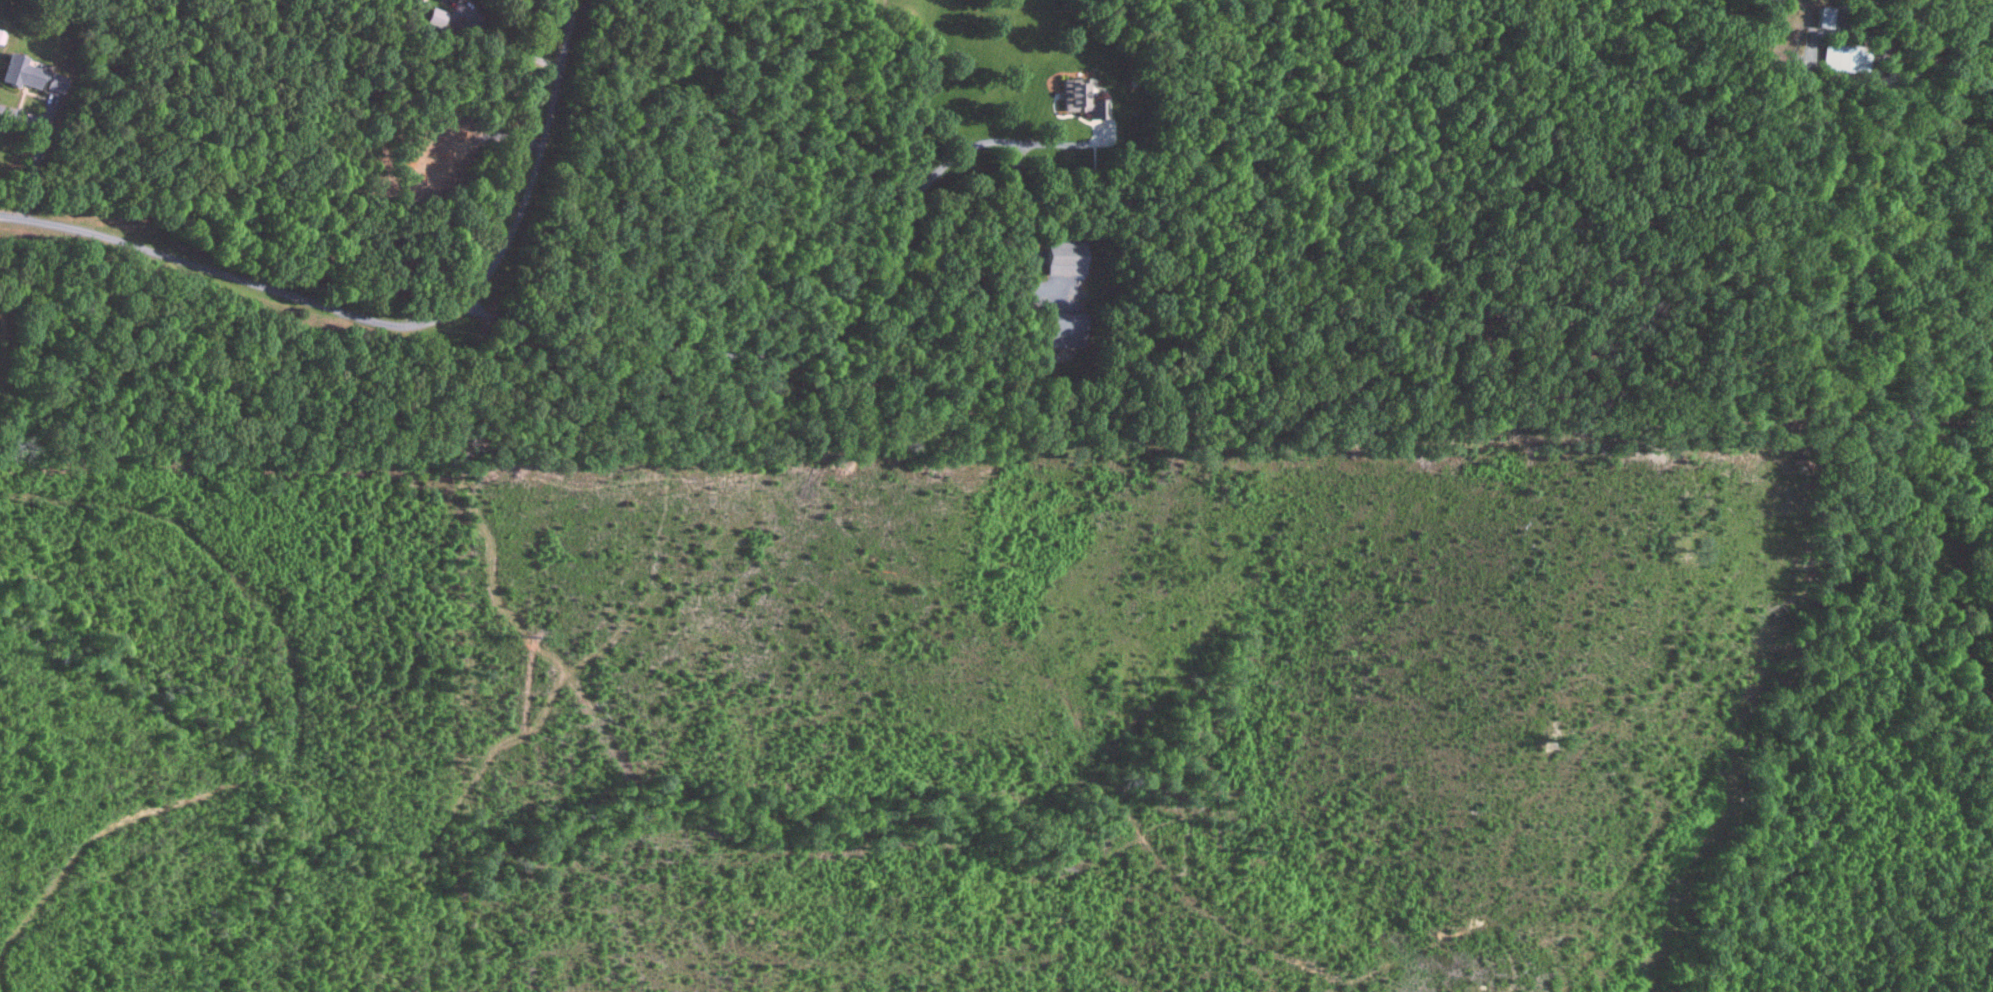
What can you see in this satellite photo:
building: (440, 18)
road: (509, 47)
building: (19, 72)
building: (1094, 98)
road: (40, 148)
building: (1064, 257)
road: (392, 322)
road: (849, 322)
building: (1059, 325)

